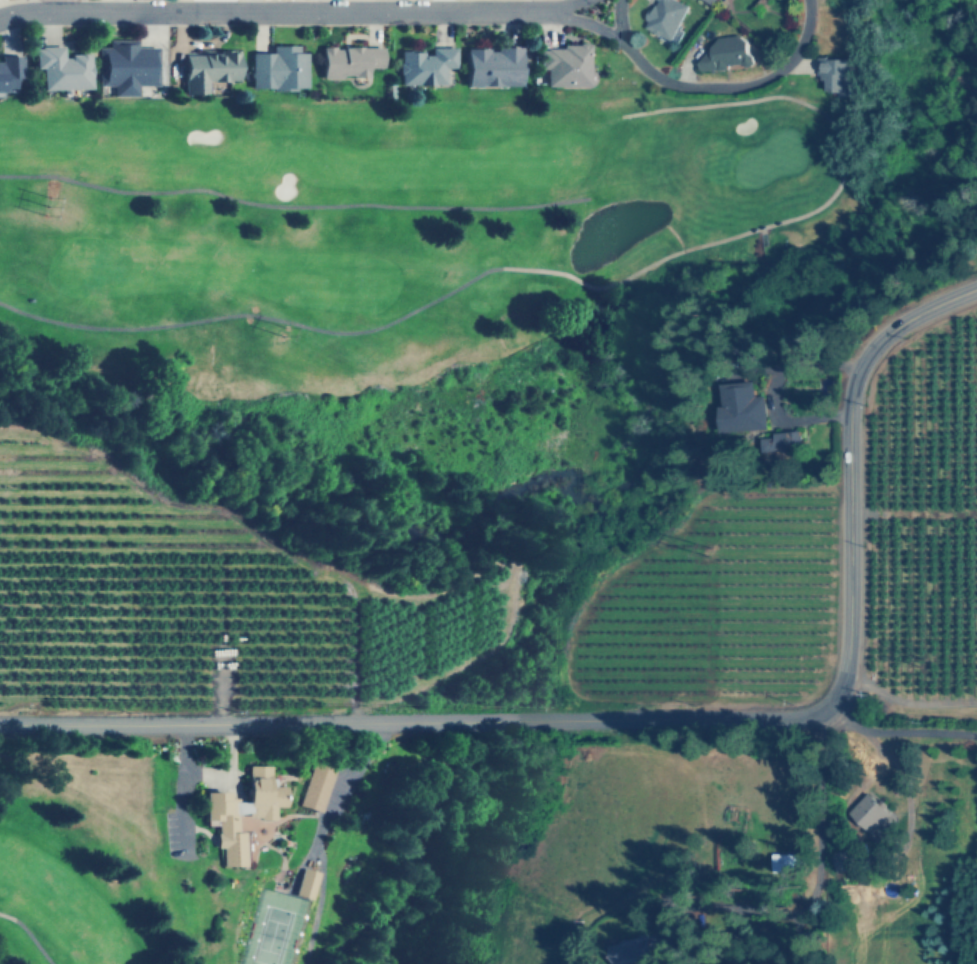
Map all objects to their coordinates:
building: (711, 1)
road: (568, 6)
road: (274, 12)
building: (664, 18)
road: (619, 23)
road: (588, 24)
building: (725, 52)
building: (350, 60)
building: (565, 64)
building: (128, 65)
building: (426, 65)
building: (493, 66)
building: (60, 67)
building: (278, 68)
building: (208, 69)
building: (836, 74)
road: (736, 87)
road: (630, 155)
road: (291, 205)
park: (406, 267)
road: (566, 273)
road: (792, 369)
building: (733, 400)
road: (815, 416)
building: (782, 441)
road: (848, 468)
crop: (716, 607)
road: (907, 702)
road: (411, 721)
road: (896, 733)
building: (316, 785)
road: (336, 791)
building: (241, 811)
building: (867, 811)
park: (93, 858)
building: (784, 861)
road: (817, 861)
building: (305, 883)
park: (270, 927)
road: (29, 934)

